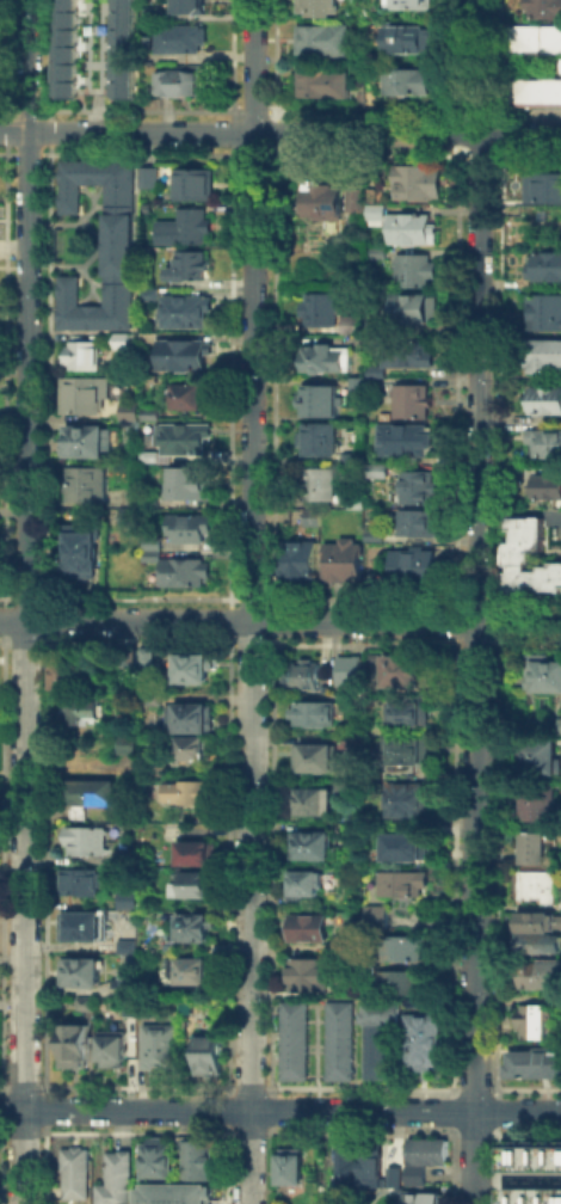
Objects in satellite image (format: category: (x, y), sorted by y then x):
building: (0, 2)
building: (191, 5)
building: (414, 5)
building: (322, 7)
building: (543, 7)
building: (153, 10)
building: (180, 36)
building: (532, 36)
building: (148, 41)
building: (412, 41)
building: (326, 42)
building: (95, 47)
parking lot: (95, 47)
building: (143, 56)
building: (179, 78)
building: (327, 84)
building: (412, 84)
building: (532, 91)
road: (95, 111)
road: (279, 131)
building: (150, 179)
building: (420, 184)
building: (197, 186)
building: (542, 186)
building: (358, 201)
building: (541, 202)
building: (329, 203)
building: (380, 213)
building: (414, 227)
building: (186, 228)
building: (121, 247)
building: (381, 253)
building: (543, 265)
building: (191, 268)
building: (415, 272)
building: (152, 296)
building: (542, 309)
building: (419, 311)
building: (321, 312)
building: (186, 314)
building: (353, 325)
building: (378, 330)
building: (123, 343)
building: (413, 355)
building: (542, 355)
building: (86, 357)
building: (186, 357)
building: (328, 361)
building: (377, 369)
building: (85, 397)
building: (190, 398)
building: (318, 398)
building: (543, 398)
building: (413, 403)
building: (131, 411)
building: (152, 413)
building: (544, 441)
building: (185, 442)
building: (320, 442)
building: (90, 443)
building: (407, 443)
building: (152, 459)
building: (191, 485)
building: (544, 485)
building: (87, 486)
building: (322, 486)
building: (420, 487)
building: (150, 504)
building: (359, 505)
road: (518, 511)
building: (134, 520)
parking lot: (554, 522)
building: (423, 523)
building: (192, 530)
building: (377, 537)
building: (79, 547)
building: (152, 547)
building: (528, 554)
building: (300, 558)
building: (345, 563)
building: (418, 567)
building: (187, 573)
road: (475, 601)
road: (27, 602)
road: (253, 602)
road: (279, 622)
building: (147, 657)
building: (129, 659)
building: (195, 670)
building: (352, 671)
building: (68, 672)
building: (411, 674)
building: (545, 676)
building: (307, 677)
building: (155, 700)
building: (85, 709)
building: (412, 714)
building: (315, 715)
building: (195, 719)
building: (559, 724)
building: (129, 747)
building: (196, 750)
building: (408, 750)
building: (327, 754)
building: (543, 757)
building: (356, 787)
building: (92, 793)
building: (191, 794)
building: (409, 801)
building: (315, 805)
building: (540, 810)
building: (355, 831)
building: (84, 838)
building: (313, 847)
building: (409, 849)
building: (536, 849)
building: (199, 856)
building: (82, 884)
building: (307, 885)
building: (407, 885)
building: (193, 886)
building: (538, 887)
building: (125, 898)
building: (135, 903)
building: (381, 920)
building: (86, 928)
building: (197, 929)
building: (309, 930)
building: (541, 930)
building: (346, 946)
building: (407, 948)
building: (195, 972)
building: (81, 973)
building: (312, 976)
building: (543, 978)
building: (406, 983)
building: (128, 985)
building: (84, 1002)
building: (132, 1009)
building: (536, 1024)
building: (294, 1039)
building: (340, 1039)
building: (382, 1040)
building: (429, 1043)
building: (73, 1044)
building: (162, 1046)
building: (115, 1051)
building: (212, 1058)
building: (537, 1067)
road: (280, 1111)
building: (426, 1149)
building: (530, 1154)
building: (196, 1156)
building: (154, 1157)
building: (374, 1163)
building: (295, 1167)
building: (351, 1167)
building: (74, 1171)
building: (396, 1175)
building: (115, 1178)
building: (174, 1193)
building: (531, 1194)
building: (426, 1199)

